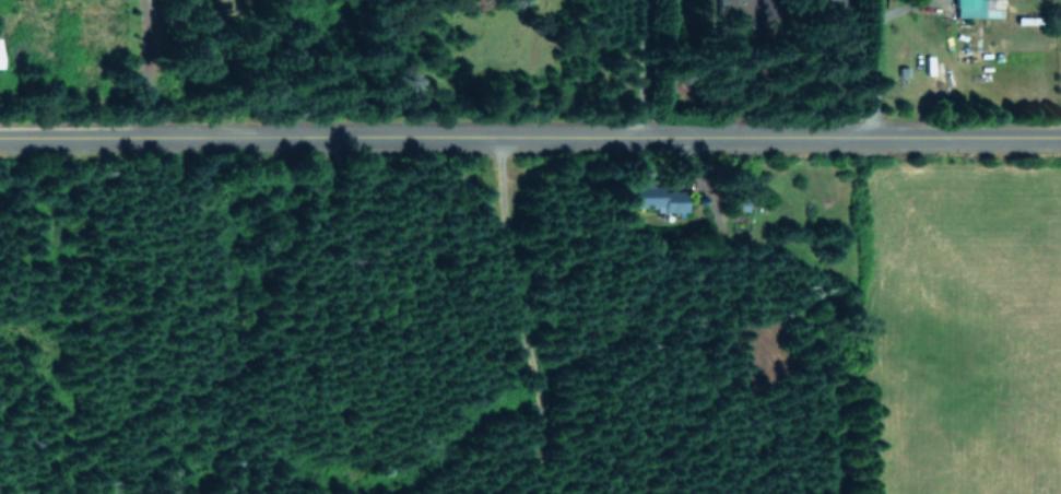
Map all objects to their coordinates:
building: (976, 8)
road: (867, 56)
road: (145, 71)
road: (646, 71)
road: (530, 142)
building: (661, 200)

